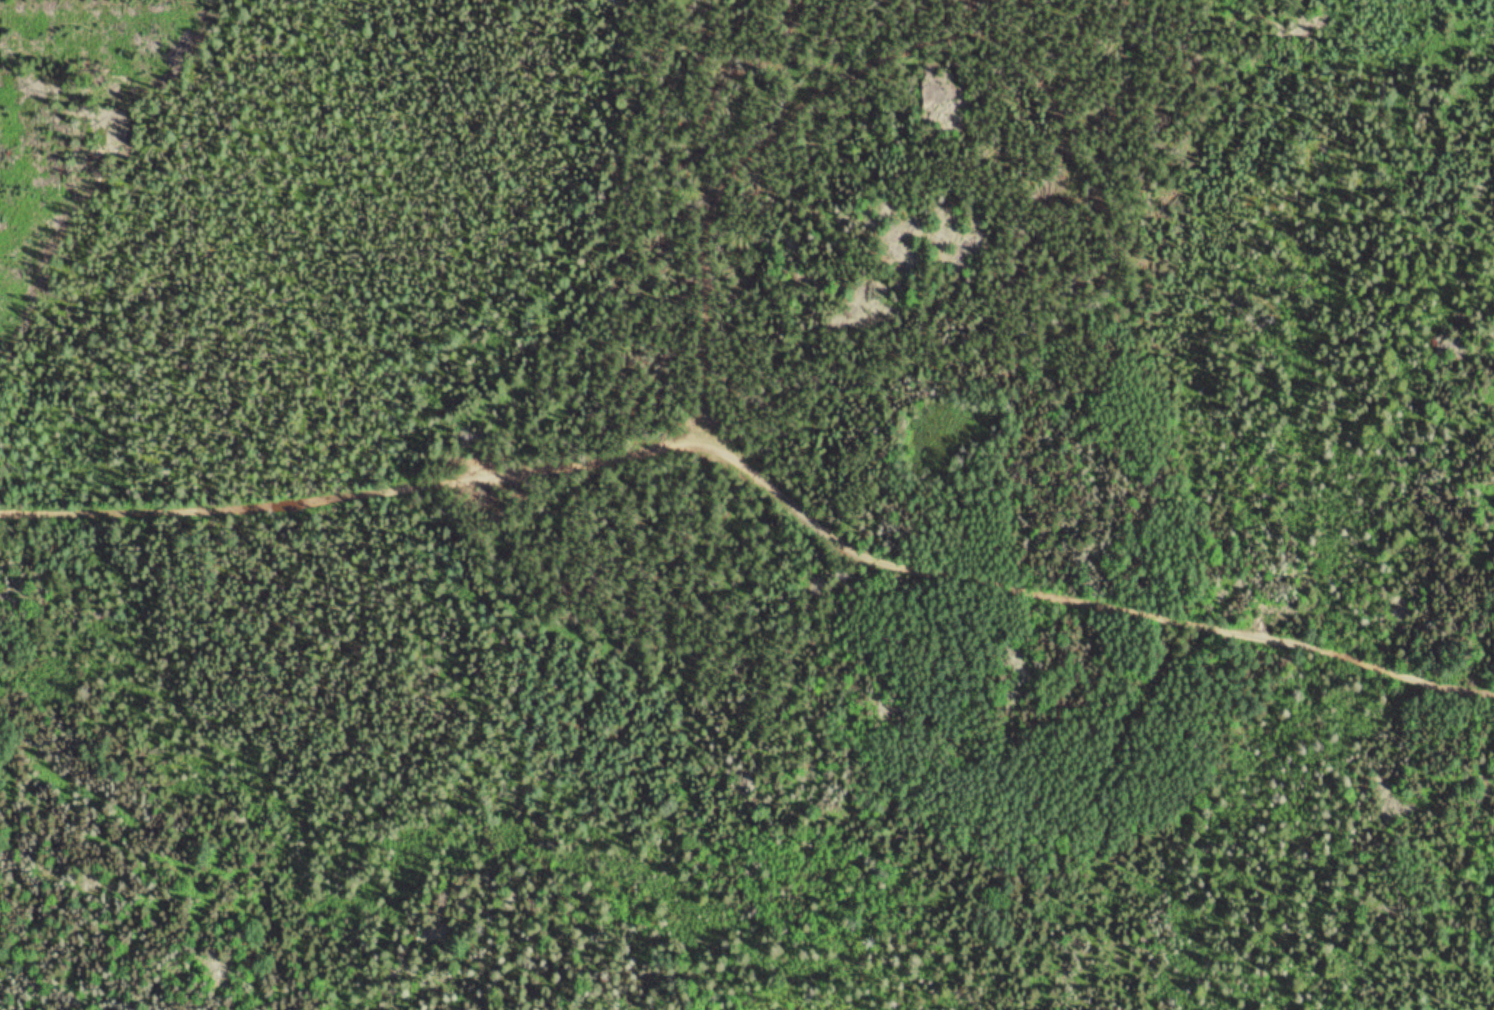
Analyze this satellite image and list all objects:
road: (718, 195)
road: (759, 466)

